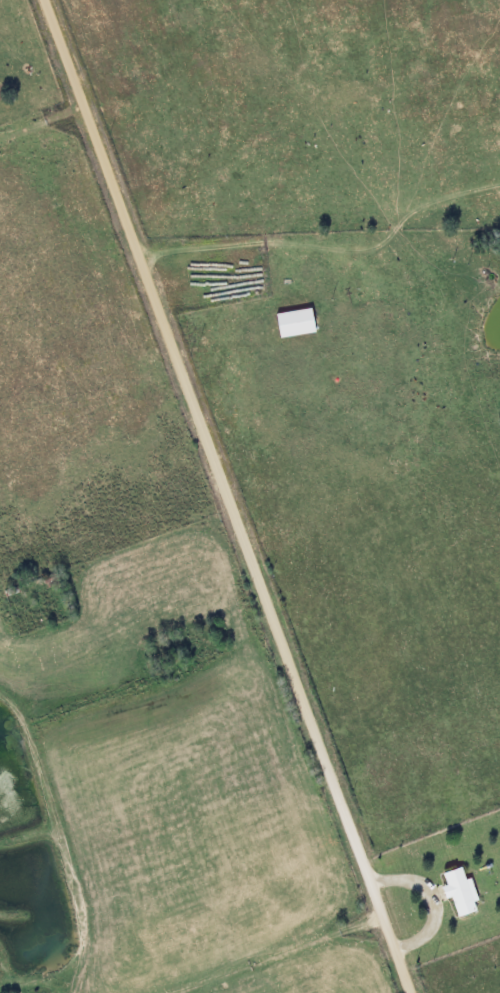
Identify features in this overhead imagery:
building: (291, 322)
road: (224, 496)
building: (455, 891)
road: (430, 894)

